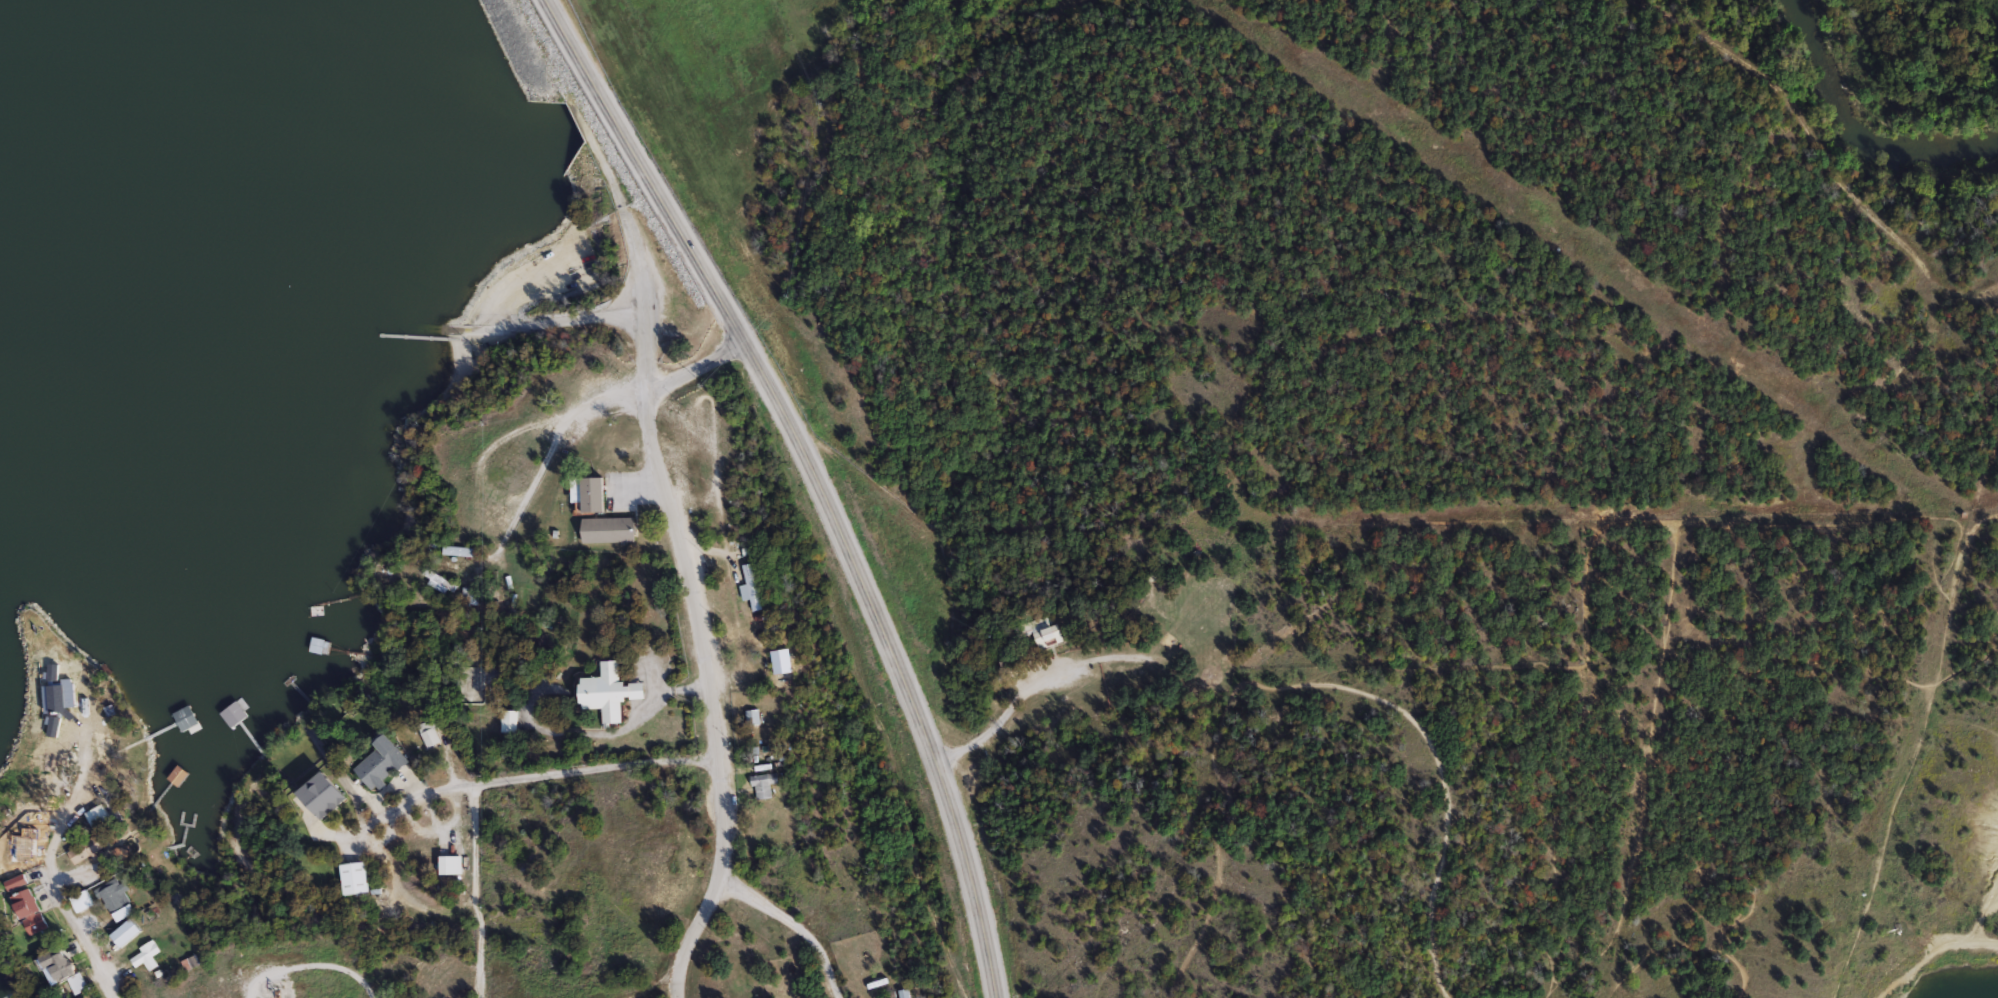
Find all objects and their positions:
river: (877, 1)
dam: (531, 76)
river: (1856, 131)
road: (585, 320)
pier: (414, 336)
road: (590, 406)
road: (817, 481)
building: (598, 494)
building: (612, 529)
building: (463, 550)
building: (441, 580)
building: (753, 584)
building: (469, 595)
building: (1045, 634)
road: (701, 637)
building: (316, 645)
building: (611, 691)
building: (755, 716)
road: (997, 718)
building: (185, 719)
building: (431, 732)
building: (383, 762)
road: (531, 779)
building: (765, 784)
building: (326, 794)
building: (101, 817)
building: (87, 850)
building: (452, 864)
building: (355, 877)
building: (18, 881)
road: (47, 883)
road: (472, 894)
building: (116, 899)
building: (81, 901)
building: (31, 910)
building: (137, 923)
road: (793, 928)
building: (145, 956)
road: (1433, 958)
building: (191, 963)
building: (66, 968)
building: (906, 993)
building: (79, 996)

